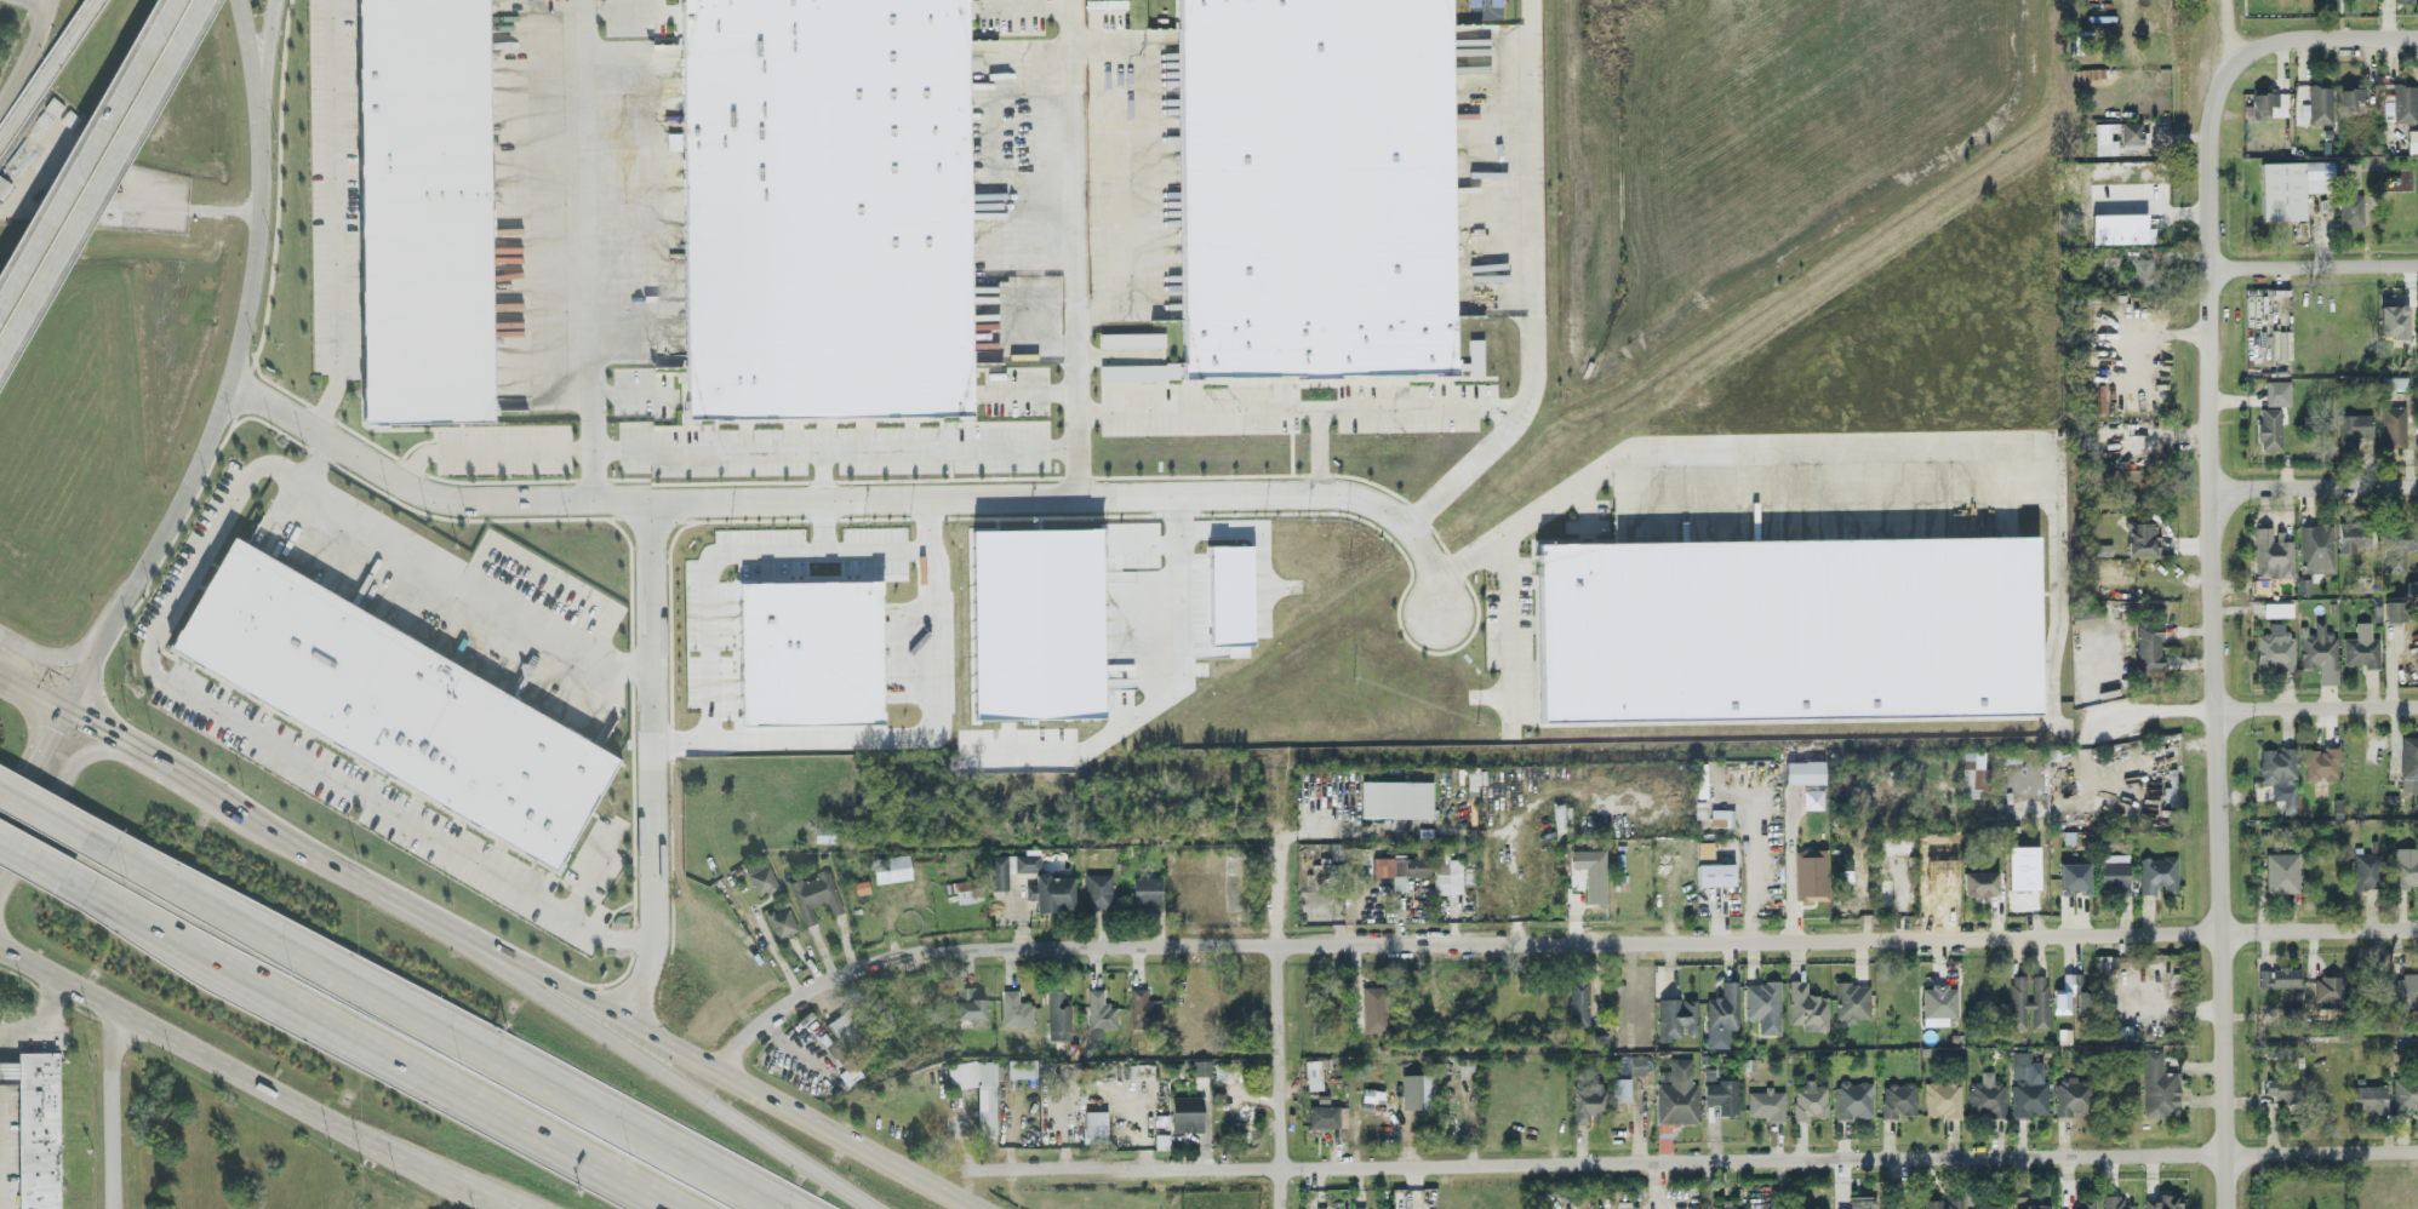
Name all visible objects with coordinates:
building: (2405, 0)
road: (34, 4)
road: (1023, 5)
park: (1491, 8)
road: (627, 11)
road: (2226, 33)
road: (2367, 34)
road: (25, 52)
road: (47, 69)
road: (251, 74)
road: (265, 74)
building: (2350, 98)
building: (2405, 102)
building: (2268, 103)
building: (2319, 103)
building: (2388, 104)
building: (2131, 130)
building: (2105, 136)
building: (2126, 143)
road: (87, 155)
road: (1120, 172)
road: (104, 183)
building: (2292, 185)
building: (1314, 188)
building: (2350, 201)
building: (823, 206)
building: (425, 212)
road: (336, 219)
building: (2123, 228)
road: (1077, 247)
road: (593, 251)
road: (2313, 264)
road: (251, 267)
building: (2139, 270)
road: (1538, 290)
building: (2393, 319)
road: (1691, 331)
road: (2143, 331)
building: (1131, 338)
building: (1474, 366)
building: (1138, 371)
building: (2397, 379)
road: (1033, 391)
building: (2277, 391)
road: (631, 394)
road: (1568, 394)
road: (1564, 405)
road: (1302, 406)
building: (2393, 424)
building: (2269, 426)
building: (2353, 428)
road: (1727, 441)
road: (1322, 449)
road: (737, 451)
road: (315, 463)
road: (827, 474)
road: (2315, 485)
road: (852, 498)
building: (2354, 533)
building: (2142, 535)
road: (875, 543)
building: (2397, 545)
building: (2316, 546)
building: (2103, 548)
building: (2271, 551)
road: (153, 552)
road: (2059, 588)
road: (2213, 588)
road: (1171, 590)
building: (1230, 594)
building: (2394, 609)
road: (708, 615)
building: (1036, 619)
road: (162, 626)
building: (1783, 626)
road: (1509, 632)
building: (2149, 642)
building: (2317, 646)
building: (2274, 647)
building: (2361, 648)
building: (810, 651)
road: (65, 658)
road: (1487, 694)
road: (32, 695)
road: (2316, 703)
building: (396, 707)
road: (2150, 710)
traffic signals: (63, 714)
road: (915, 733)
building: (2408, 755)
building: (2322, 762)
road: (648, 764)
road: (32, 767)
building: (1804, 770)
building: (1972, 772)
building: (2280, 772)
road: (57, 787)
building: (1396, 797)
building: (1812, 797)
road: (45, 814)
building: (1721, 815)
building: (1362, 853)
road: (34, 859)
building: (1027, 860)
building: (1886, 860)
building: (891, 866)
building: (1423, 867)
building: (2363, 869)
building: (2405, 869)
building: (999, 870)
building: (2115, 871)
building: (1591, 872)
building: (1715, 872)
building: (1810, 872)
building: (2157, 873)
building: (2074, 876)
building: (2281, 878)
building: (762, 879)
building: (1979, 881)
building: (1098, 889)
building: (1051, 890)
building: (1147, 890)
building: (817, 898)
building: (783, 923)
road: (1548, 939)
road: (11, 946)
road: (4, 952)
building: (2105, 959)
road: (521, 967)
building: (2277, 975)
building: (2406, 986)
building: (2327, 990)
building: (2070, 992)
building: (1578, 1001)
building: (1852, 1001)
building: (1939, 1001)
building: (2028, 1001)
building: (1764, 1003)
building: (1807, 1005)
building: (1144, 1007)
building: (1374, 1007)
building: (1099, 1008)
building: (973, 1009)
building: (1016, 1010)
building: (1058, 1014)
building: (1721, 1014)
building: (1677, 1015)
road: (588, 1022)
road: (434, 1025)
road: (44, 1027)
road: (1280, 1027)
building: (847, 1032)
road: (367, 1048)
road: (795, 1053)
building: (1201, 1065)
building: (1024, 1070)
building: (1313, 1072)
building: (10, 1075)
road: (247, 1079)
road: (2187, 1081)
building: (2407, 1082)
building: (2028, 1083)
building: (2157, 1083)
building: (1622, 1087)
building: (2282, 1088)
building: (1412, 1089)
building: (979, 1091)
building: (1676, 1091)
building: (1722, 1094)
building: (1985, 1094)
building: (2071, 1094)
building: (1942, 1096)
building: (2368, 1096)
building: (1853, 1098)
building: (1898, 1098)
building: (1810, 1099)
building: (1587, 1100)
building: (1765, 1101)
road: (114, 1112)
building: (1187, 1112)
building: (1327, 1115)
building: (1094, 1125)
building: (41, 1131)
road: (1676, 1161)
road: (468, 1185)
road: (1411, 1187)
building: (1412, 1197)
building: (1860, 1201)
building: (2163, 1201)
building: (2028, 1202)
building: (2115, 1202)
building: (1942, 1203)
building: (2087, 1203)
building: (1724, 1204)
building: (1359, 1205)
building: (1990, 1205)
building: (1320, 1207)

